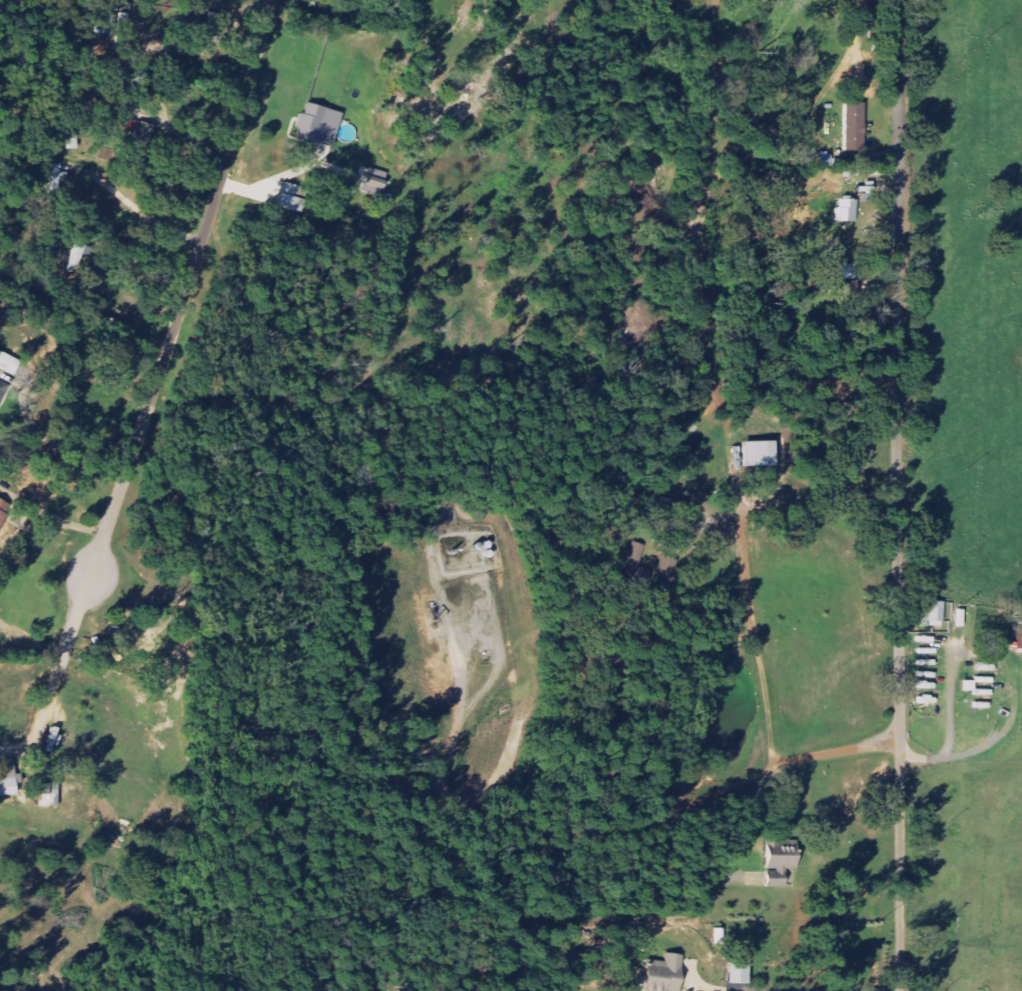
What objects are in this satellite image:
building: (105, 21)
building: (214, 21)
road: (902, 81)
road: (813, 106)
building: (322, 123)
building: (856, 126)
building: (59, 176)
building: (295, 196)
building: (848, 209)
road: (201, 245)
building: (81, 251)
building: (851, 270)
building: (9, 362)
building: (3, 391)
building: (693, 423)
building: (763, 453)
building: (4, 510)
road: (103, 530)
building: (640, 556)
road: (899, 577)
road: (750, 590)
building: (935, 612)
building: (929, 650)
building: (969, 685)
building: (984, 685)
road: (966, 753)
road: (796, 762)
building: (8, 778)
building: (49, 793)
road: (474, 807)
road: (721, 835)
building: (782, 863)
building: (742, 966)
building: (665, 974)

